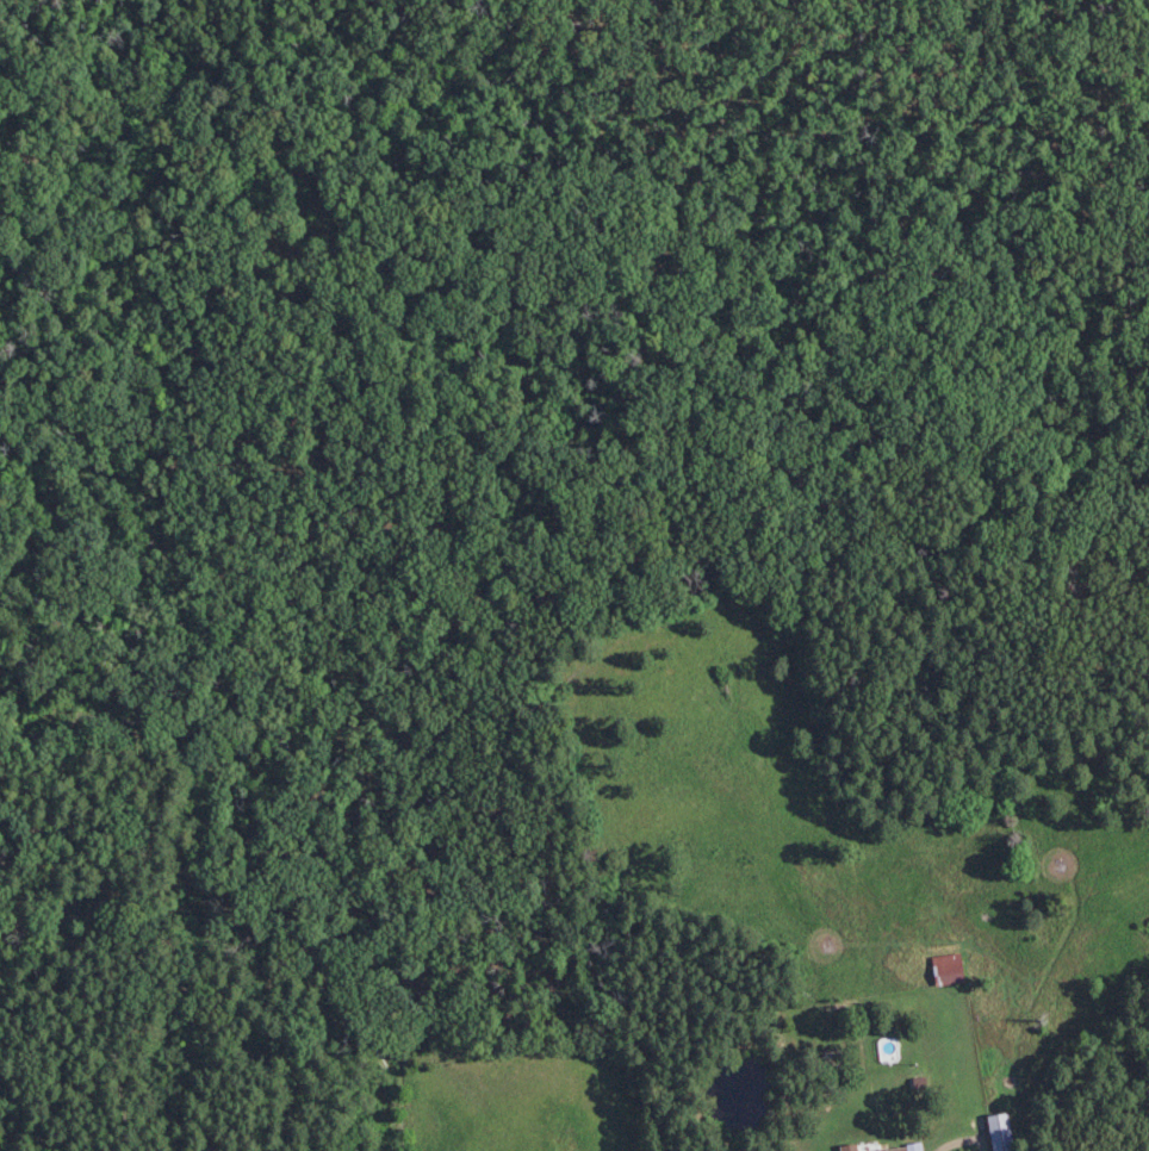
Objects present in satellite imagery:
building: (945, 970)
building: (998, 1132)
building: (894, 1149)

